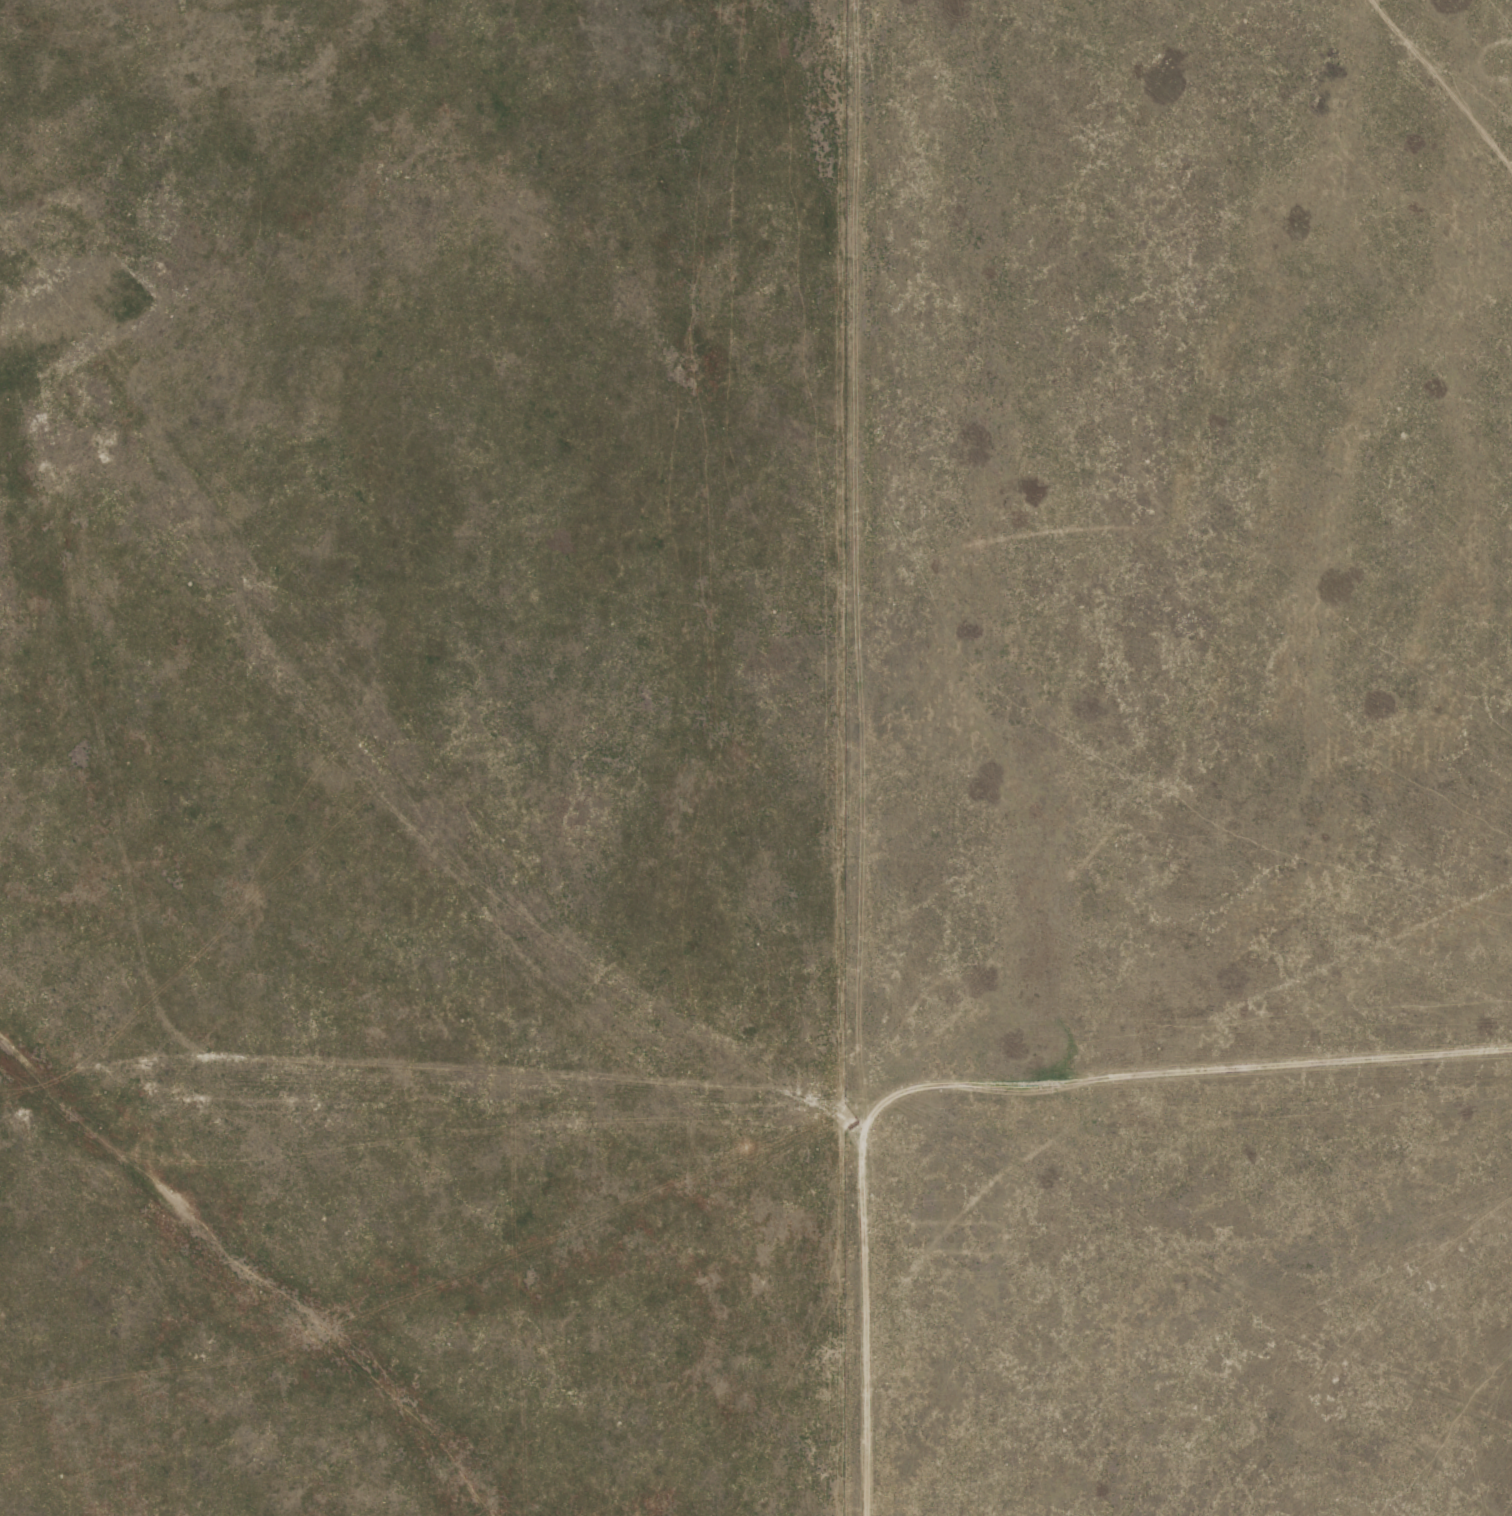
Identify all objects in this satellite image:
road: (872, 552)
road: (440, 1062)
road: (1199, 1248)
road: (879, 1310)

